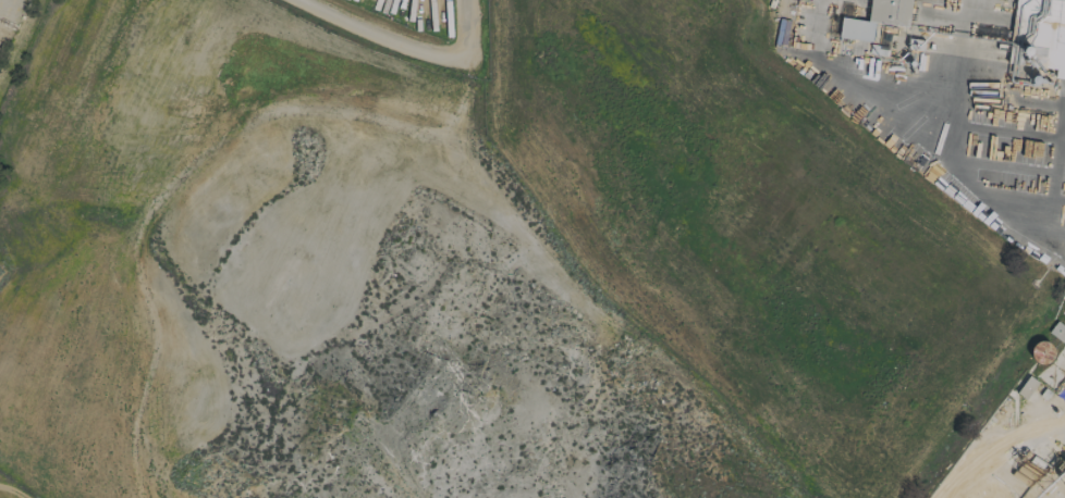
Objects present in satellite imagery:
building: (876, 18)
road: (465, 26)
building: (1045, 33)
road: (378, 34)
road: (952, 101)
road: (914, 137)
road: (1057, 178)
road: (1057, 237)
building: (1026, 387)
road: (1001, 457)

